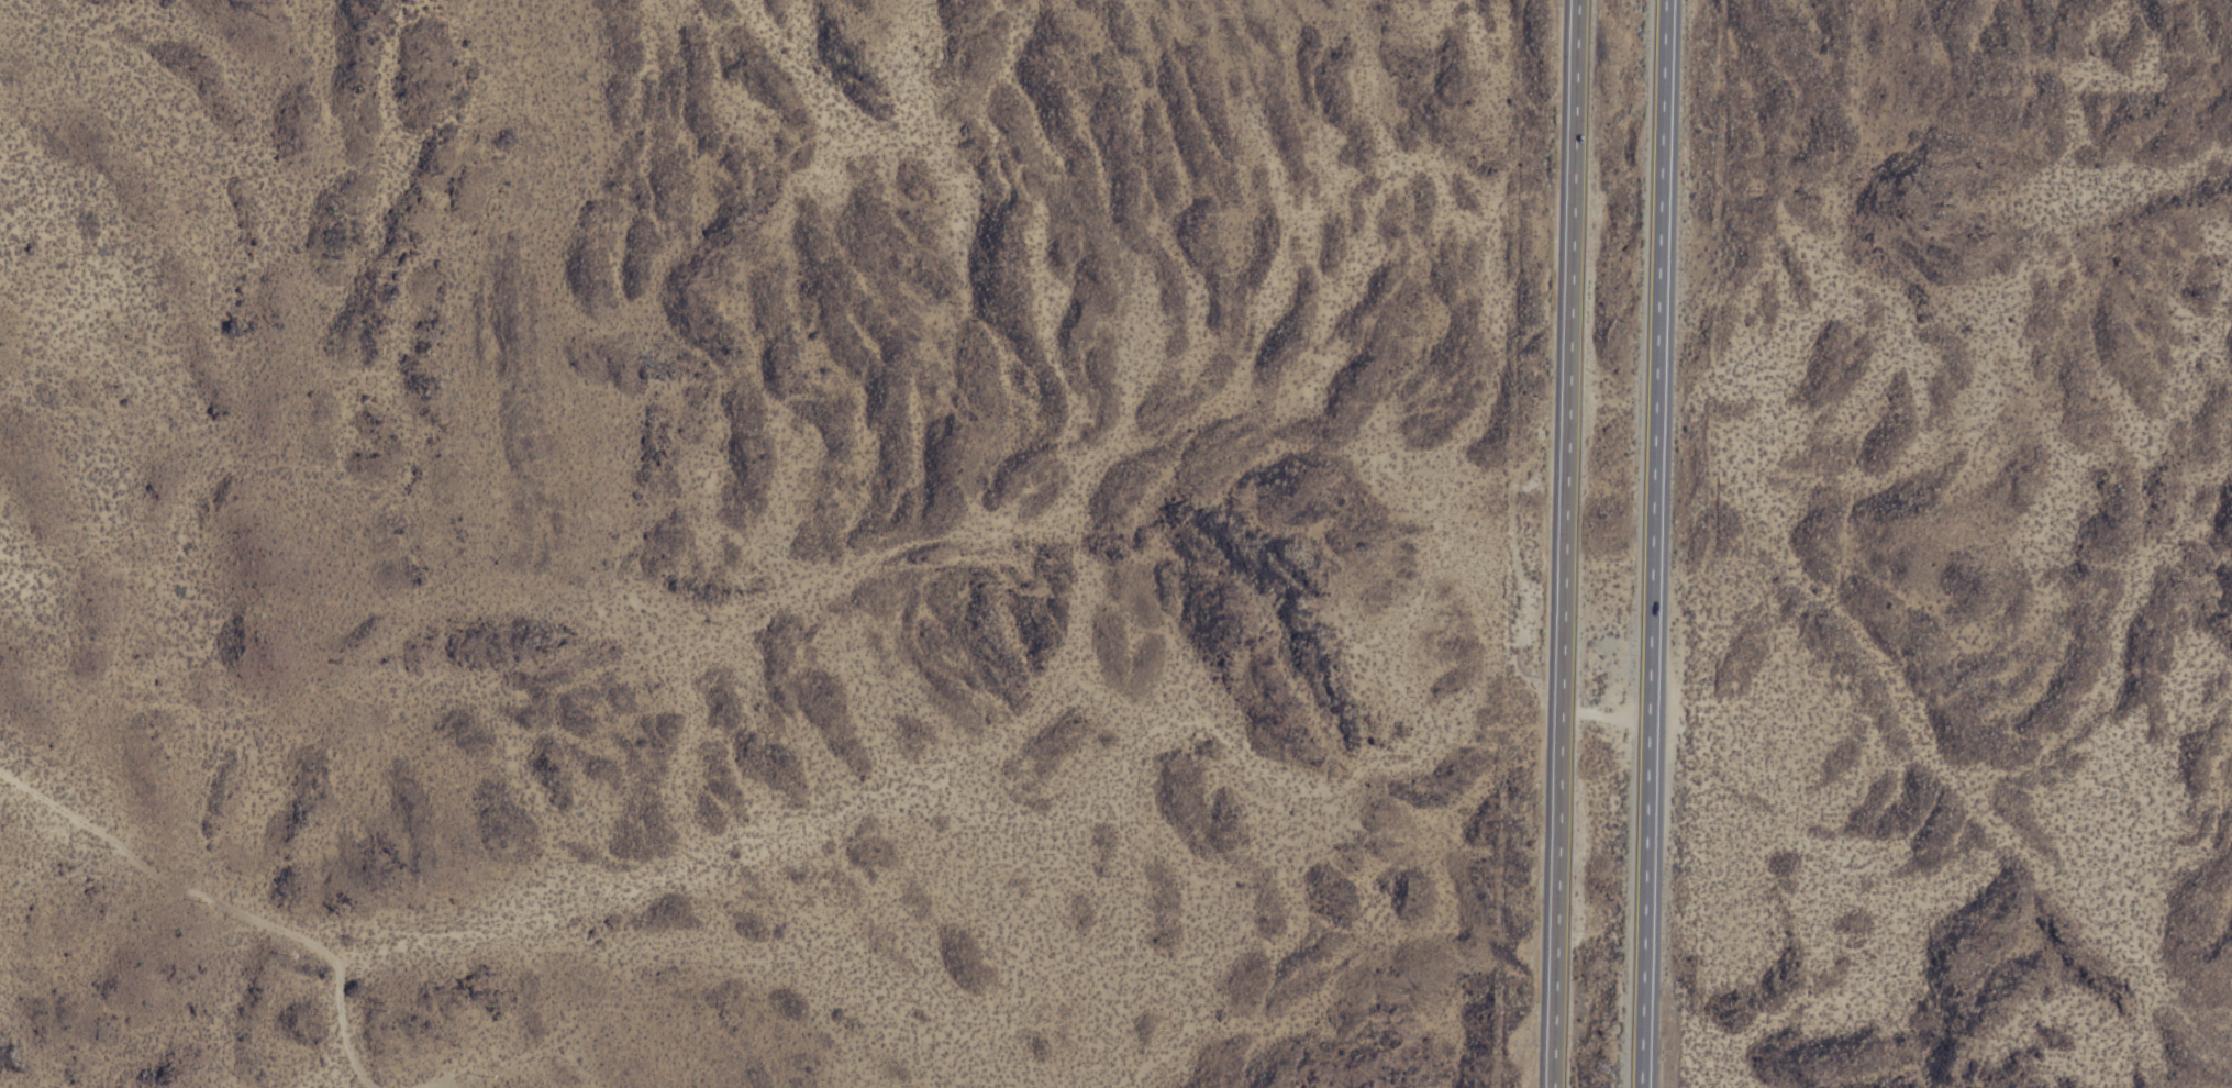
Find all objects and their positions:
road: (1566, 544)
road: (1659, 544)
road: (225, 907)

